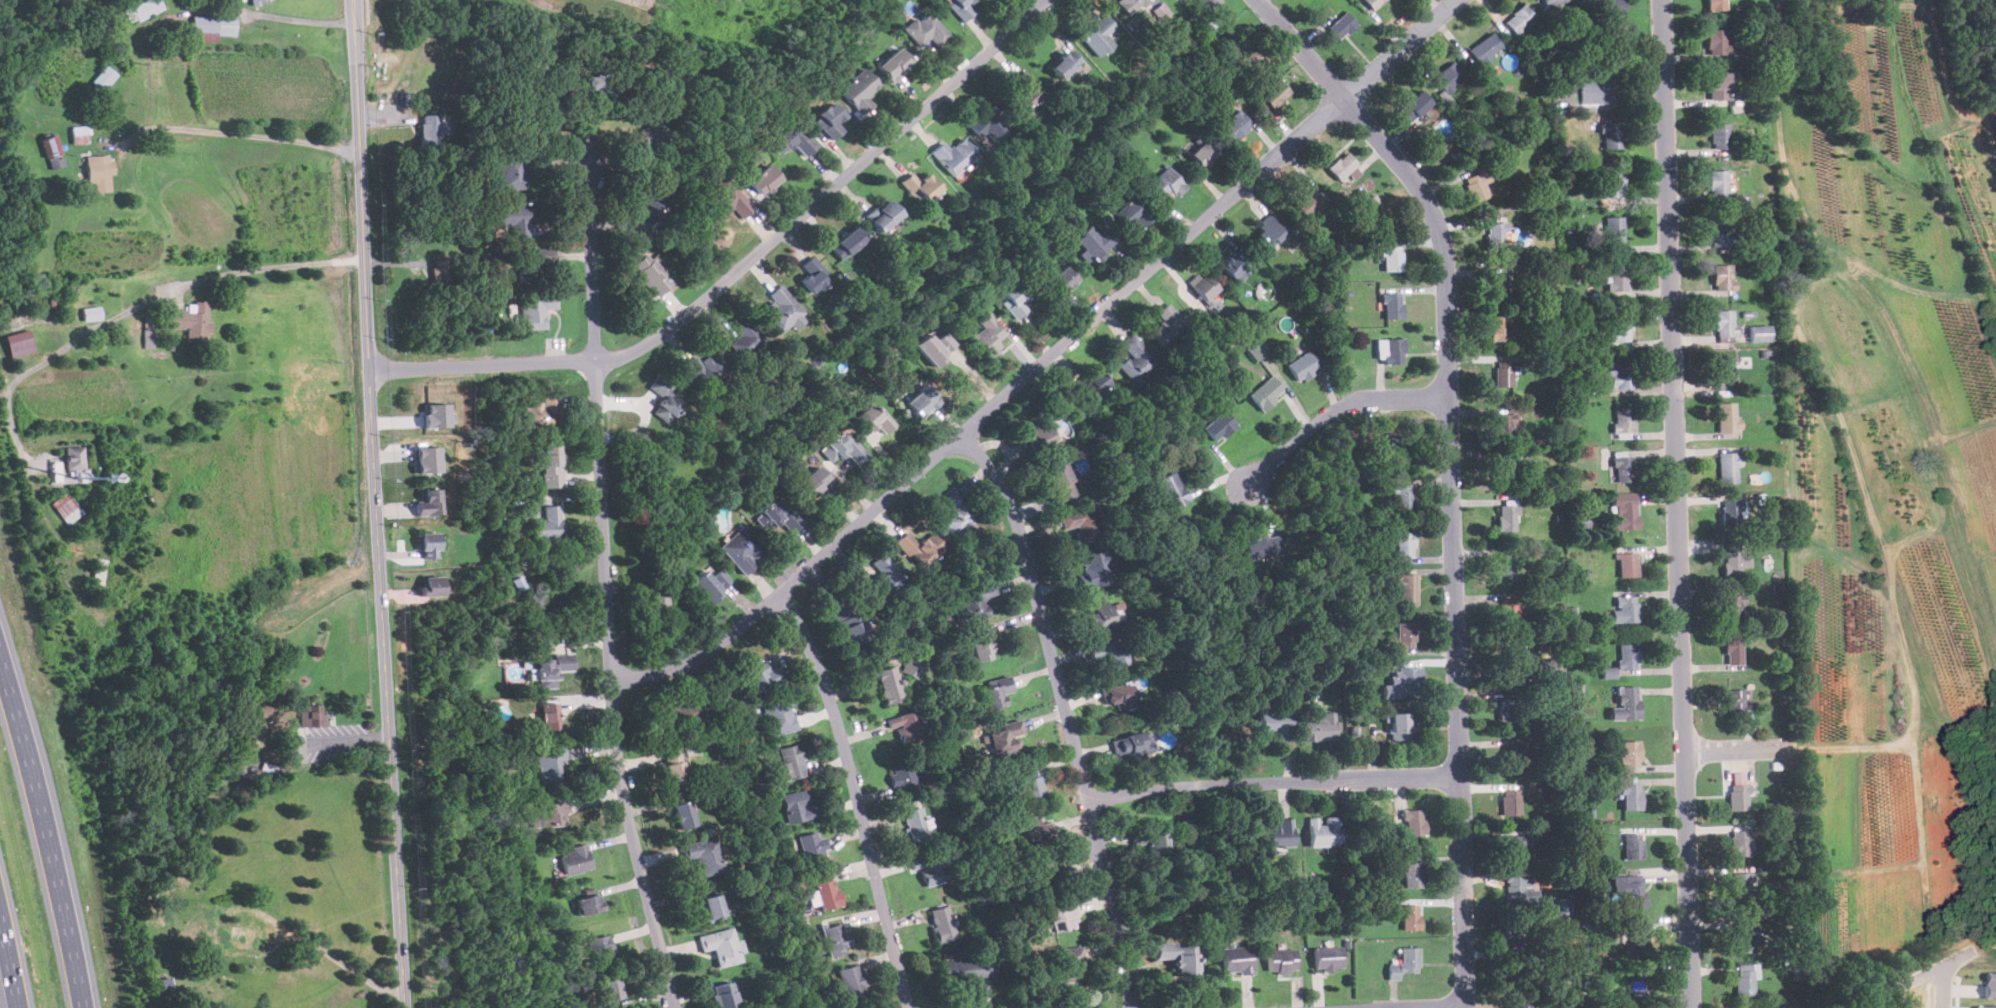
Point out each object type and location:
building: (260, 1)
building: (1210, 3)
building: (1373, 3)
building: (1553, 3)
building: (1130, 5)
building: (1612, 5)
building: (1716, 5)
building: (962, 7)
building: (141, 9)
road: (304, 18)
building: (1519, 20)
building: (213, 25)
building: (1341, 26)
building: (926, 29)
building: (1099, 36)
building: (1717, 42)
building: (1485, 49)
building: (1067, 63)
building: (895, 64)
building: (1448, 77)
building: (103, 78)
building: (1718, 87)
building: (859, 90)
building: (1024, 90)
building: (1599, 90)
building: (596, 91)
building: (1276, 94)
building: (1418, 103)
building: (542, 112)
building: (830, 120)
building: (989, 126)
building: (1236, 126)
building: (429, 131)
road: (239, 134)
building: (80, 135)
building: (657, 136)
building: (1611, 136)
building: (1721, 136)
building: (791, 139)
building: (52, 152)
building: (1202, 155)
building: (954, 156)
building: (1343, 167)
building: (515, 172)
building: (99, 174)
building: (764, 180)
building: (1479, 180)
building: (1166, 183)
building: (1612, 184)
building: (1718, 184)
building: (920, 187)
building: (724, 196)
building: (1309, 202)
building: (656, 211)
building: (1130, 214)
building: (883, 216)
building: (515, 218)
building: (1269, 230)
building: (1614, 232)
building: (1723, 232)
building: (1497, 236)
building: (847, 243)
building: (1094, 244)
building: (1391, 258)
building: (530, 263)
road: (741, 265)
building: (1233, 265)
building: (441, 272)
building: (651, 275)
building: (814, 275)
building: (1724, 277)
building: (1617, 278)
building: (1064, 279)
building: (1204, 287)
building: (1497, 287)
building: (1014, 299)
road: (138, 305)
building: (1392, 305)
building: (535, 310)
building: (781, 310)
building: (91, 313)
building: (191, 322)
building: (1724, 323)
building: (1168, 327)
building: (1499, 328)
building: (1620, 328)
building: (149, 333)
building: (1760, 333)
building: (988, 334)
building: (746, 337)
building: (19, 343)
building: (934, 348)
building: (1256, 349)
building: (1390, 351)
road: (1044, 360)
building: (1136, 361)
road: (370, 365)
building: (1303, 366)
building: (707, 371)
building: (1621, 373)
building: (1723, 373)
building: (1504, 374)
building: (1093, 386)
building: (1267, 393)
building: (666, 400)
building: (922, 400)
road: (1335, 408)
building: (436, 415)
building: (541, 415)
building: (1727, 418)
building: (874, 419)
building: (1623, 422)
building: (1220, 426)
building: (1502, 427)
building: (1038, 435)
building: (842, 449)
building: (1397, 450)
building: (428, 459)
building: (75, 463)
building: (551, 467)
building: (1729, 468)
building: (1624, 469)
building: (1504, 470)
road: (1449, 472)
building: (814, 481)
building: (1060, 482)
building: (1171, 490)
building: (1403, 497)
building: (429, 502)
road: (1677, 503)
building: (66, 508)
building: (1625, 511)
building: (1732, 514)
building: (955, 515)
building: (777, 517)
building: (1507, 519)
building: (1082, 523)
building: (548, 525)
building: (429, 545)
building: (1405, 545)
building: (1265, 546)
building: (919, 548)
building: (741, 549)
building: (1627, 565)
building: (1732, 565)
building: (1505, 567)
building: (1095, 569)
building: (98, 571)
building: (885, 576)
building: (710, 584)
building: (432, 586)
road: (605, 588)
building: (1408, 589)
building: (975, 601)
building: (656, 602)
building: (1734, 606)
building: (1625, 610)
building: (1506, 611)
building: (1098, 615)
building: (848, 622)
building: (1406, 635)
building: (544, 641)
building: (981, 647)
building: (1734, 652)
building: (1110, 654)
building: (1628, 656)
building: (1515, 660)
building: (1551, 665)
building: (552, 669)
building: (911, 669)
building: (1609, 672)
building: (763, 677)
building: (1406, 683)
building: (890, 686)
building: (996, 693)
building: (1118, 696)
building: (1736, 701)
building: (1627, 704)
building: (1508, 711)
road: (1065, 712)
building: (683, 714)
building: (312, 716)
building: (551, 716)
building: (779, 717)
building: (1275, 723)
building: (907, 726)
building: (1399, 727)
building: (1319, 729)
building: (1004, 738)
building: (1134, 745)
road: (1739, 748)
building: (297, 750)
building: (1630, 752)
building: (1512, 756)
building: (790, 763)
building: (548, 764)
building: (674, 771)
building: (903, 778)
road: (1271, 779)
building: (1029, 783)
building: (1738, 790)
road: (855, 795)
building: (1631, 795)
building: (1510, 804)
building: (797, 806)
building: (552, 813)
building: (683, 814)
building: (1412, 821)
building: (914, 824)
road: (47, 827)
building: (1037, 829)
building: (1324, 830)
building: (1280, 832)
building: (1537, 836)
building: (1149, 838)
building: (1741, 842)
building: (1633, 845)
building: (812, 847)
building: (1514, 847)
building: (702, 854)
building: (576, 858)
building: (930, 867)
road: (397, 869)
building: (1040, 870)
building: (1411, 874)
building: (1743, 885)
building: (1519, 889)
building: (826, 890)
building: (1634, 890)
building: (588, 903)
building: (712, 905)
building: (1562, 906)
building: (1064, 915)
building: (1410, 916)
building: (941, 923)
building: (238, 936)
building: (1513, 937)
building: (836, 938)
building: (1745, 938)
building: (1638, 939)
building: (721, 945)
building: (600, 949)
building: (1177, 956)
building: (1329, 958)
building: (1238, 959)
road: (10, 960)
building: (1281, 960)
road: (343, 962)
building: (1068, 963)
building: (1405, 963)
building: (967, 968)
building: (1744, 979)
building: (851, 981)
building: (1637, 983)
building: (1989, 984)
building: (610, 989)
road: (1942, 989)
building: (1519, 993)
building: (724, 996)
building: (1985, 1006)

